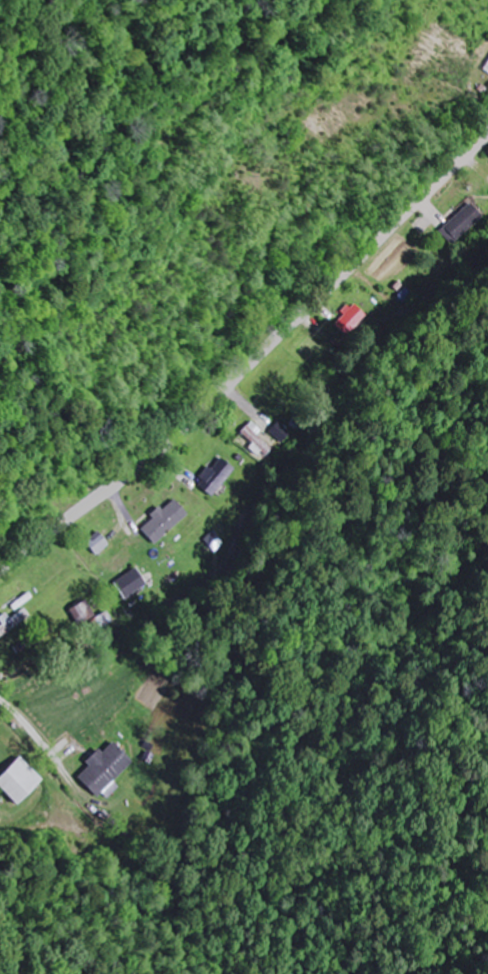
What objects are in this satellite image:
building: (464, 223)
building: (406, 295)
building: (351, 319)
road: (252, 366)
building: (283, 433)
building: (258, 440)
building: (219, 477)
building: (167, 522)
building: (217, 542)
building: (101, 543)
building: (135, 584)
building: (83, 613)
building: (13, 623)
building: (108, 769)
building: (22, 782)

